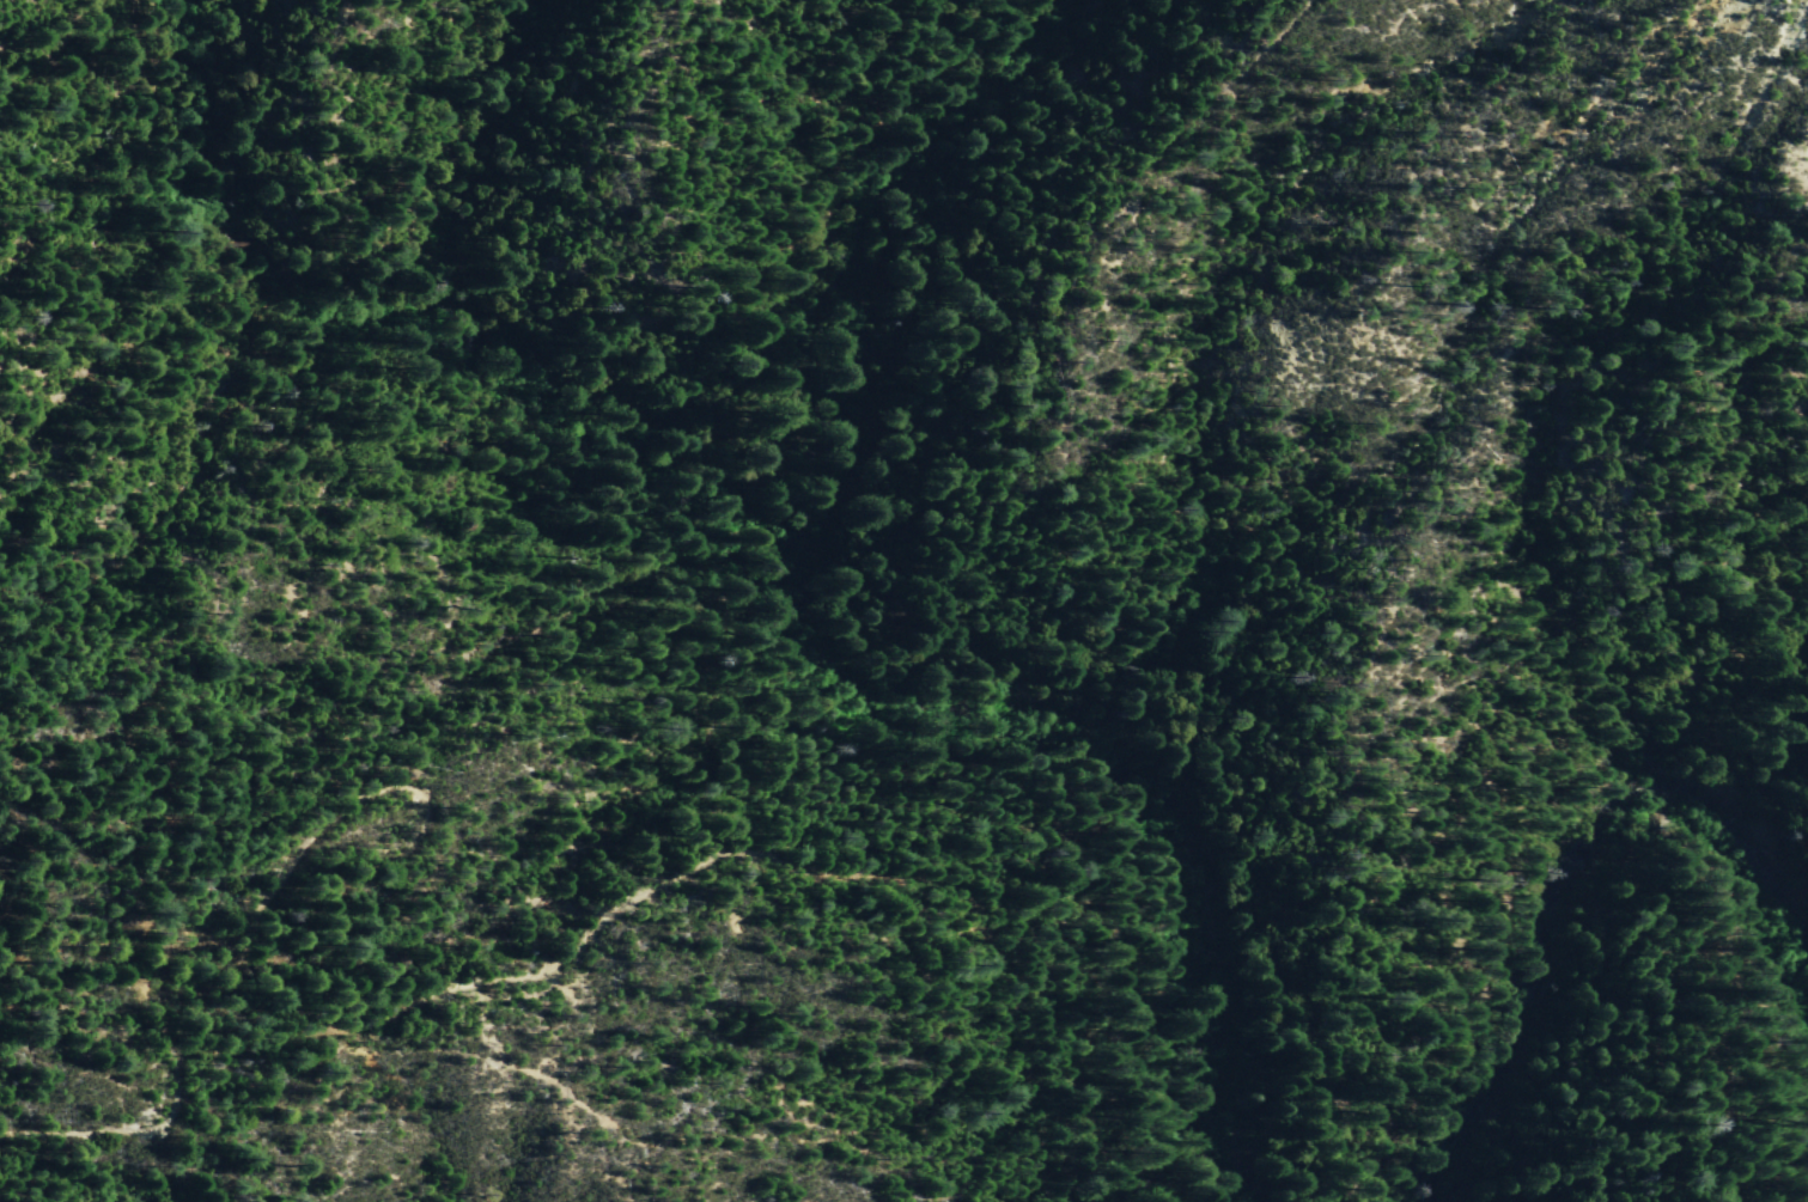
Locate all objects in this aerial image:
road: (645, 902)

